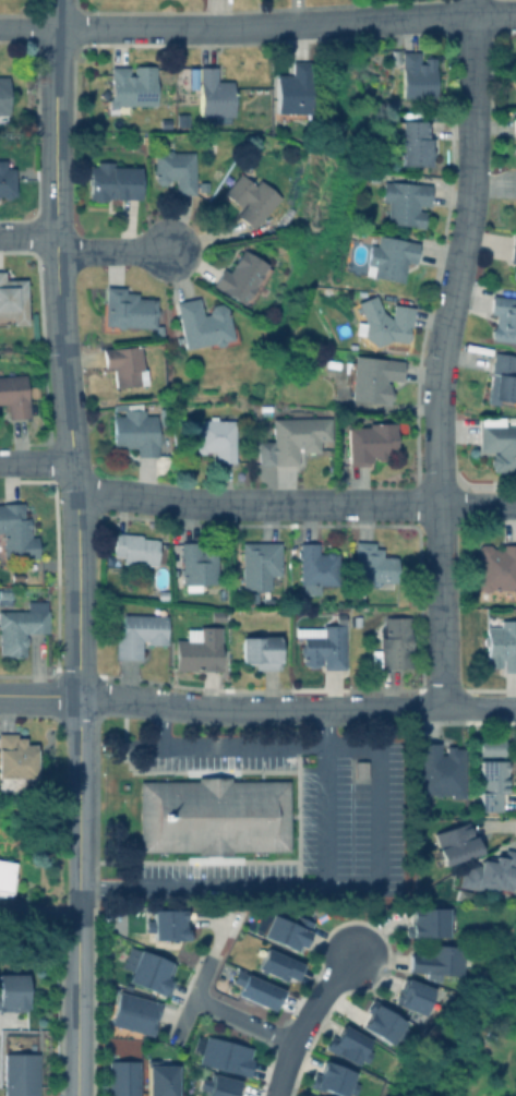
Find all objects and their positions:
road: (475, 8)
road: (257, 27)
road: (55, 67)
building: (416, 76)
building: (128, 87)
building: (290, 88)
building: (212, 95)
building: (2, 96)
building: (513, 123)
building: (409, 141)
building: (172, 168)
building: (411, 176)
building: (4, 179)
building: (110, 180)
building: (249, 196)
building: (403, 200)
road: (26, 234)
building: (513, 248)
road: (110, 251)
building: (380, 256)
building: (513, 273)
building: (241, 276)
building: (11, 299)
building: (122, 309)
building: (503, 316)
building: (380, 322)
building: (201, 323)
road: (440, 360)
building: (331, 362)
building: (123, 363)
building: (370, 376)
building: (501, 378)
building: (32, 389)
building: (13, 394)
road: (65, 415)
building: (134, 430)
building: (215, 435)
building: (291, 437)
building: (370, 441)
building: (499, 443)
road: (35, 461)
road: (257, 502)
road: (479, 505)
building: (14, 531)
building: (130, 550)
building: (256, 563)
building: (372, 564)
building: (196, 567)
building: (315, 567)
building: (495, 570)
building: (14, 575)
building: (4, 594)
building: (215, 614)
building: (21, 625)
building: (137, 634)
building: (393, 641)
building: (500, 642)
building: (322, 646)
building: (197, 649)
building: (260, 650)
road: (38, 696)
road: (480, 708)
road: (260, 709)
building: (490, 744)
road: (250, 747)
building: (16, 754)
building: (359, 768)
building: (439, 768)
building: (490, 781)
building: (209, 818)
road: (76, 833)
building: (454, 842)
building: (491, 871)
building: (5, 875)
road: (271, 881)
building: (427, 919)
building: (165, 922)
building: (281, 928)
building: (435, 959)
building: (276, 963)
building: (147, 967)
building: (254, 988)
building: (13, 989)
building: (410, 995)
road: (192, 999)
building: (134, 1010)
road: (304, 1021)
road: (241, 1022)
building: (381, 1022)
road: (76, 1034)
building: (347, 1044)
building: (224, 1055)
building: (19, 1073)
building: (121, 1076)
building: (158, 1077)
building: (332, 1077)
building: (217, 1085)
building: (309, 1095)

